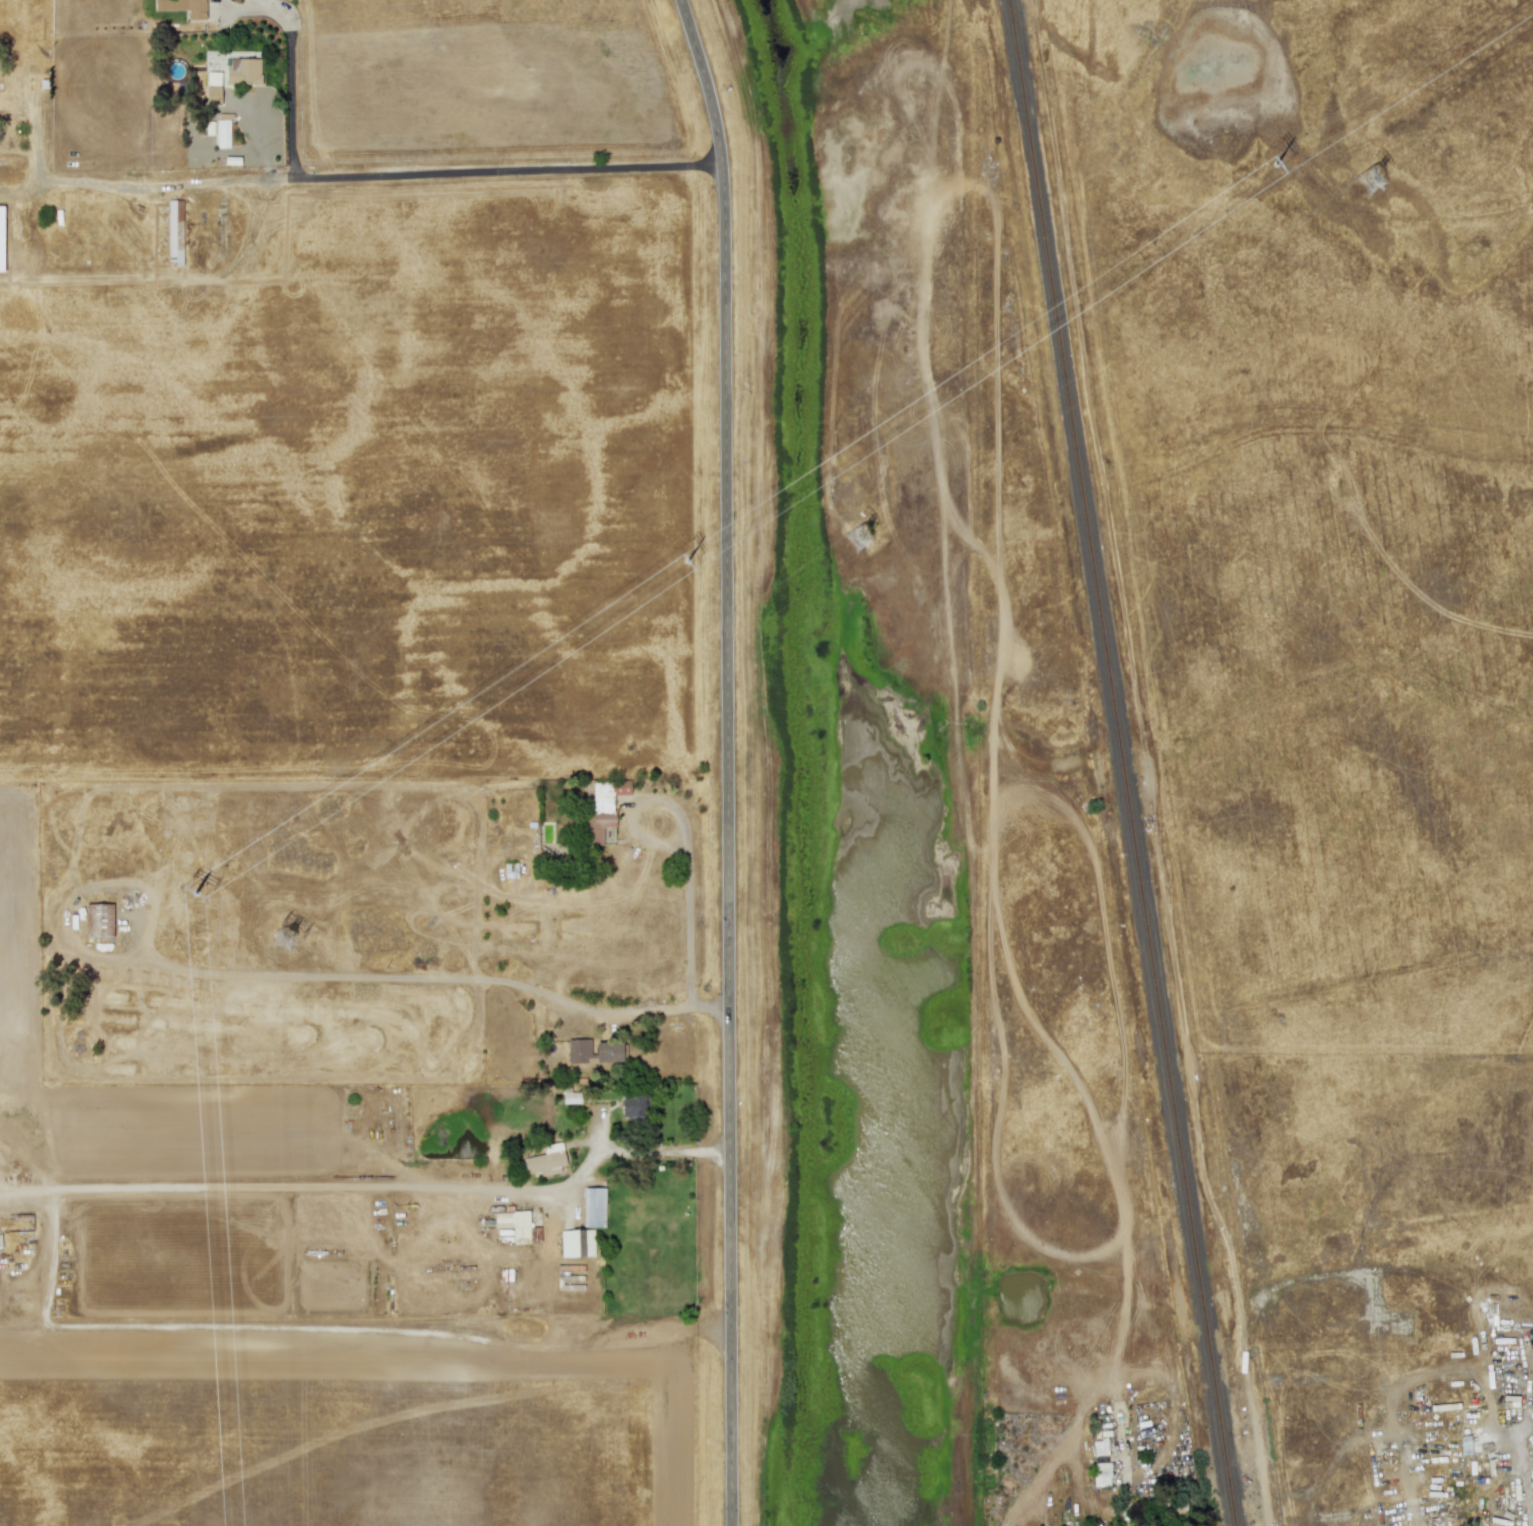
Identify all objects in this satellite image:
building: (183, 7)
building: (244, 71)
road: (290, 77)
building: (213, 88)
building: (223, 133)
road: (35, 150)
road: (382, 171)
power tower: (1371, 182)
building: (175, 233)
building: (1, 237)
road: (728, 502)
power tower: (859, 539)
solar farm: (1349, 717)
railway: (1126, 763)
road: (962, 766)
building: (602, 809)
road: (685, 841)
building: (99, 920)
power tower: (287, 941)
road: (424, 977)
building: (578, 1051)
building: (608, 1052)
building: (571, 1097)
building: (633, 1105)
building: (545, 1160)
road: (374, 1186)
building: (593, 1207)
building: (514, 1224)
building: (577, 1243)
road: (729, 1267)
road: (365, 1342)
building: (1100, 1447)
building: (1101, 1474)
road: (1521, 1484)
road: (1412, 1508)

